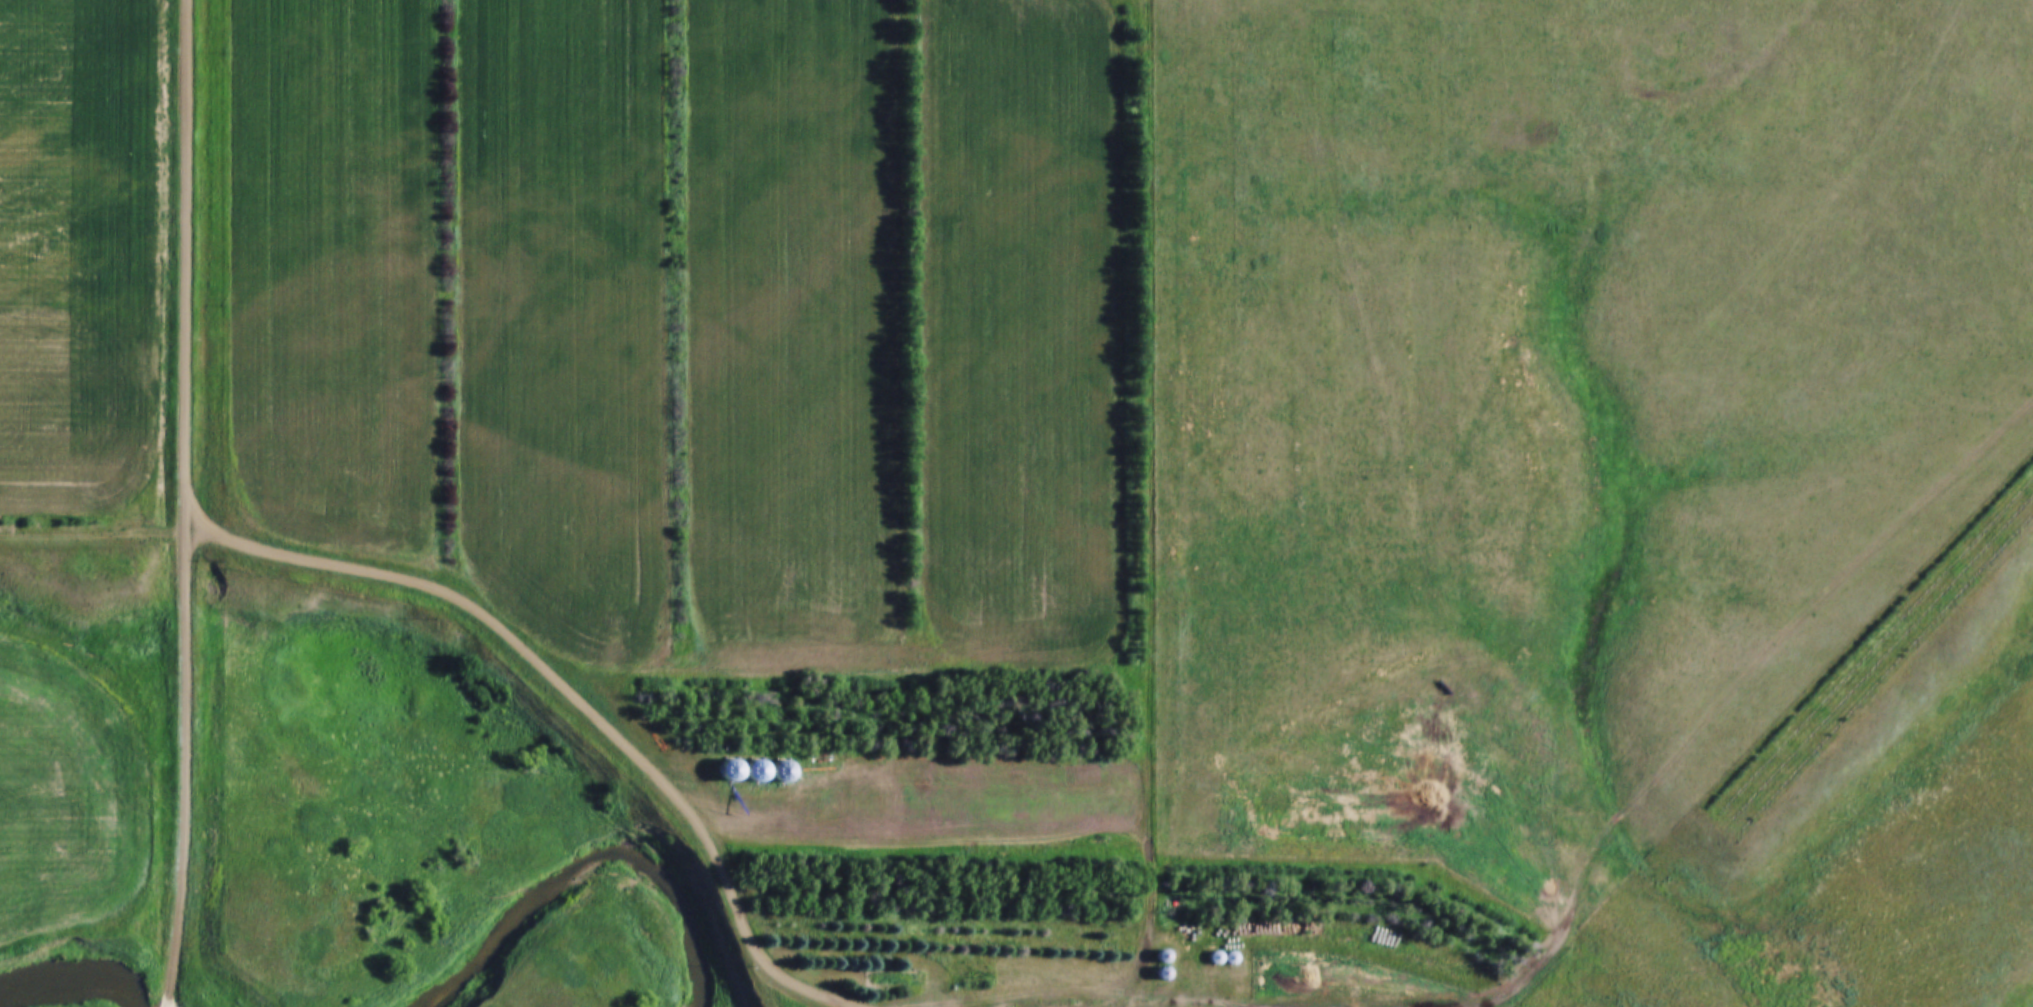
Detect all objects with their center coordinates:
road: (181, 502)
road: (1148, 505)
road: (1718, 678)
road: (562, 688)
building: (1204, 956)
building: (877, 977)
road: (1115, 1005)
road: (165, 1006)

